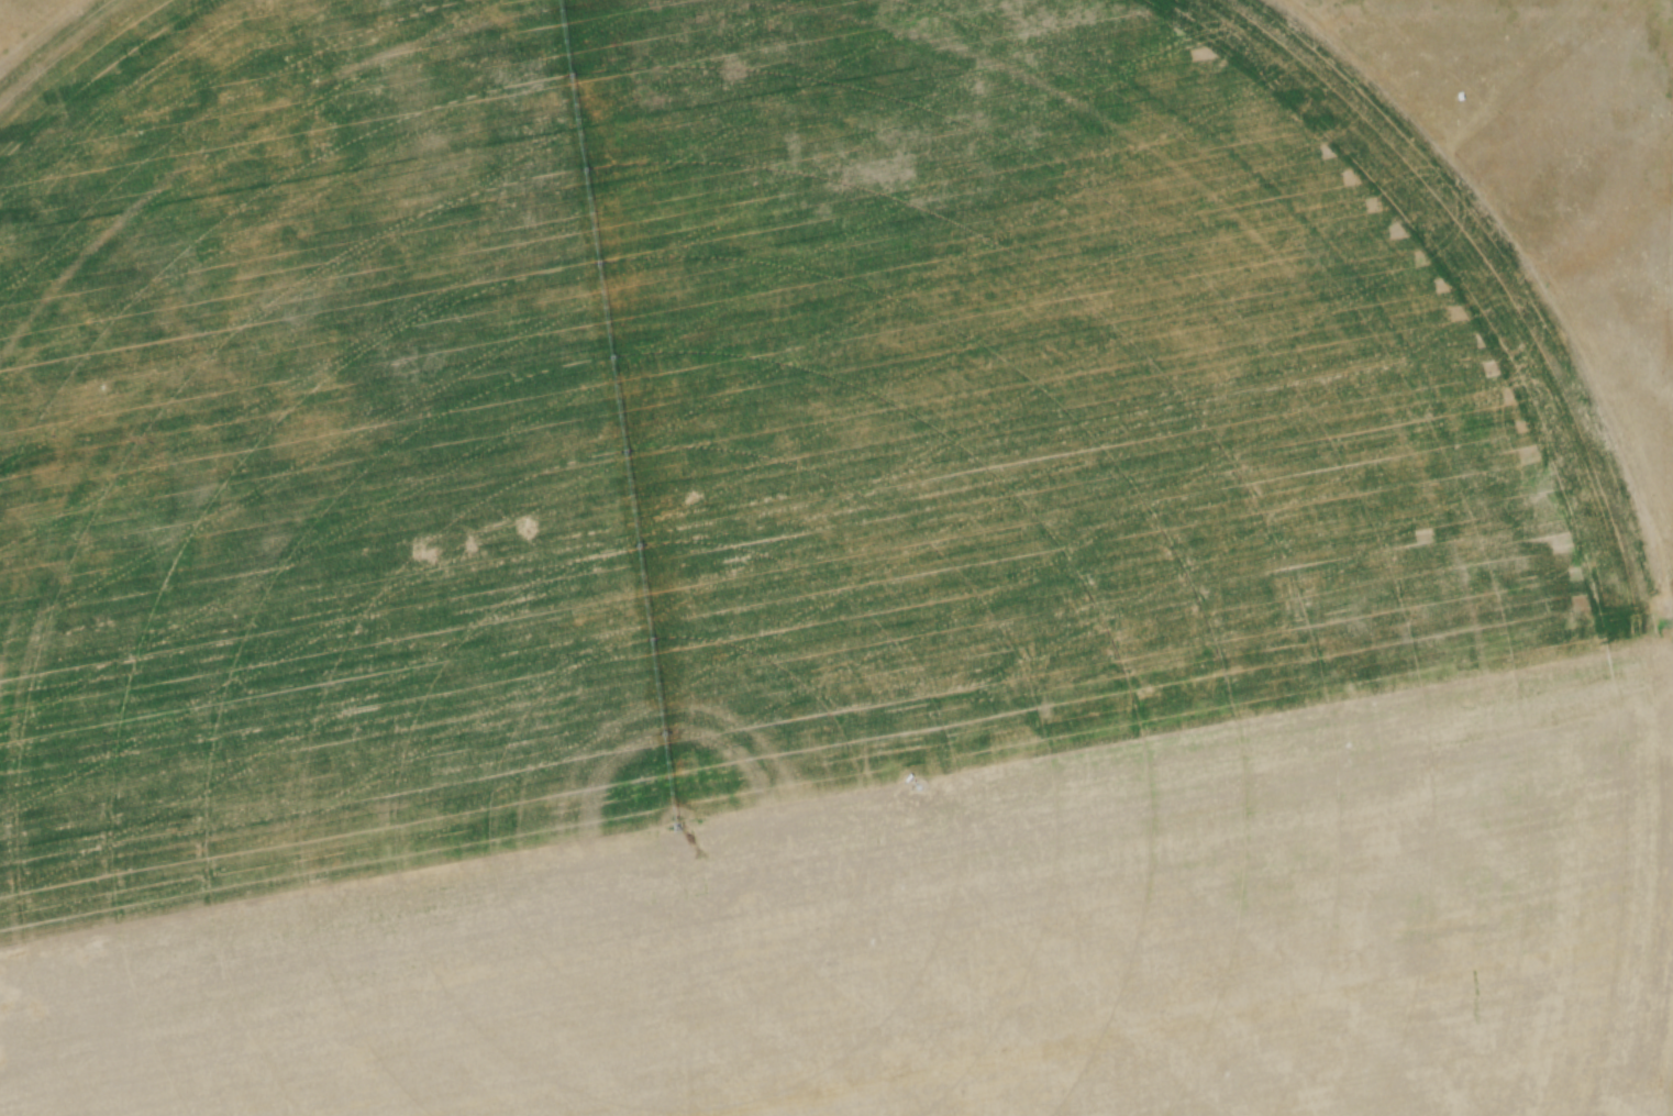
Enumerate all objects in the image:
crop: (787, 582)

